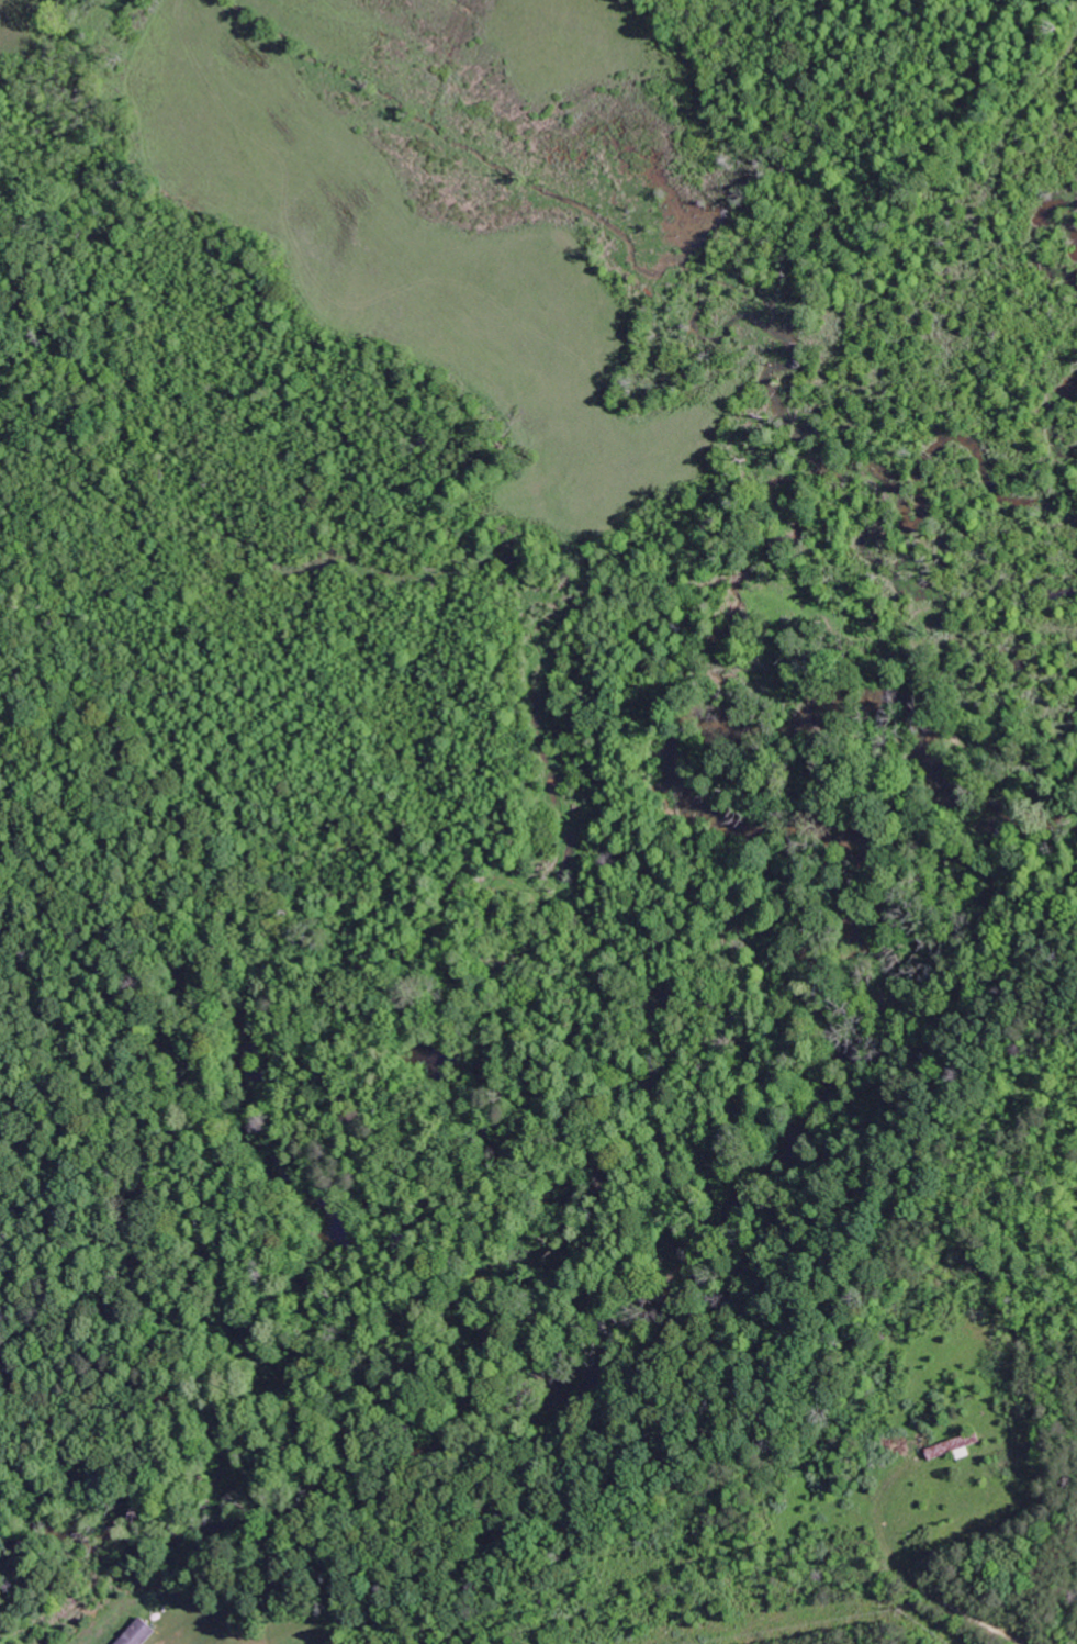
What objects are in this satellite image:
building: (143, 1633)

